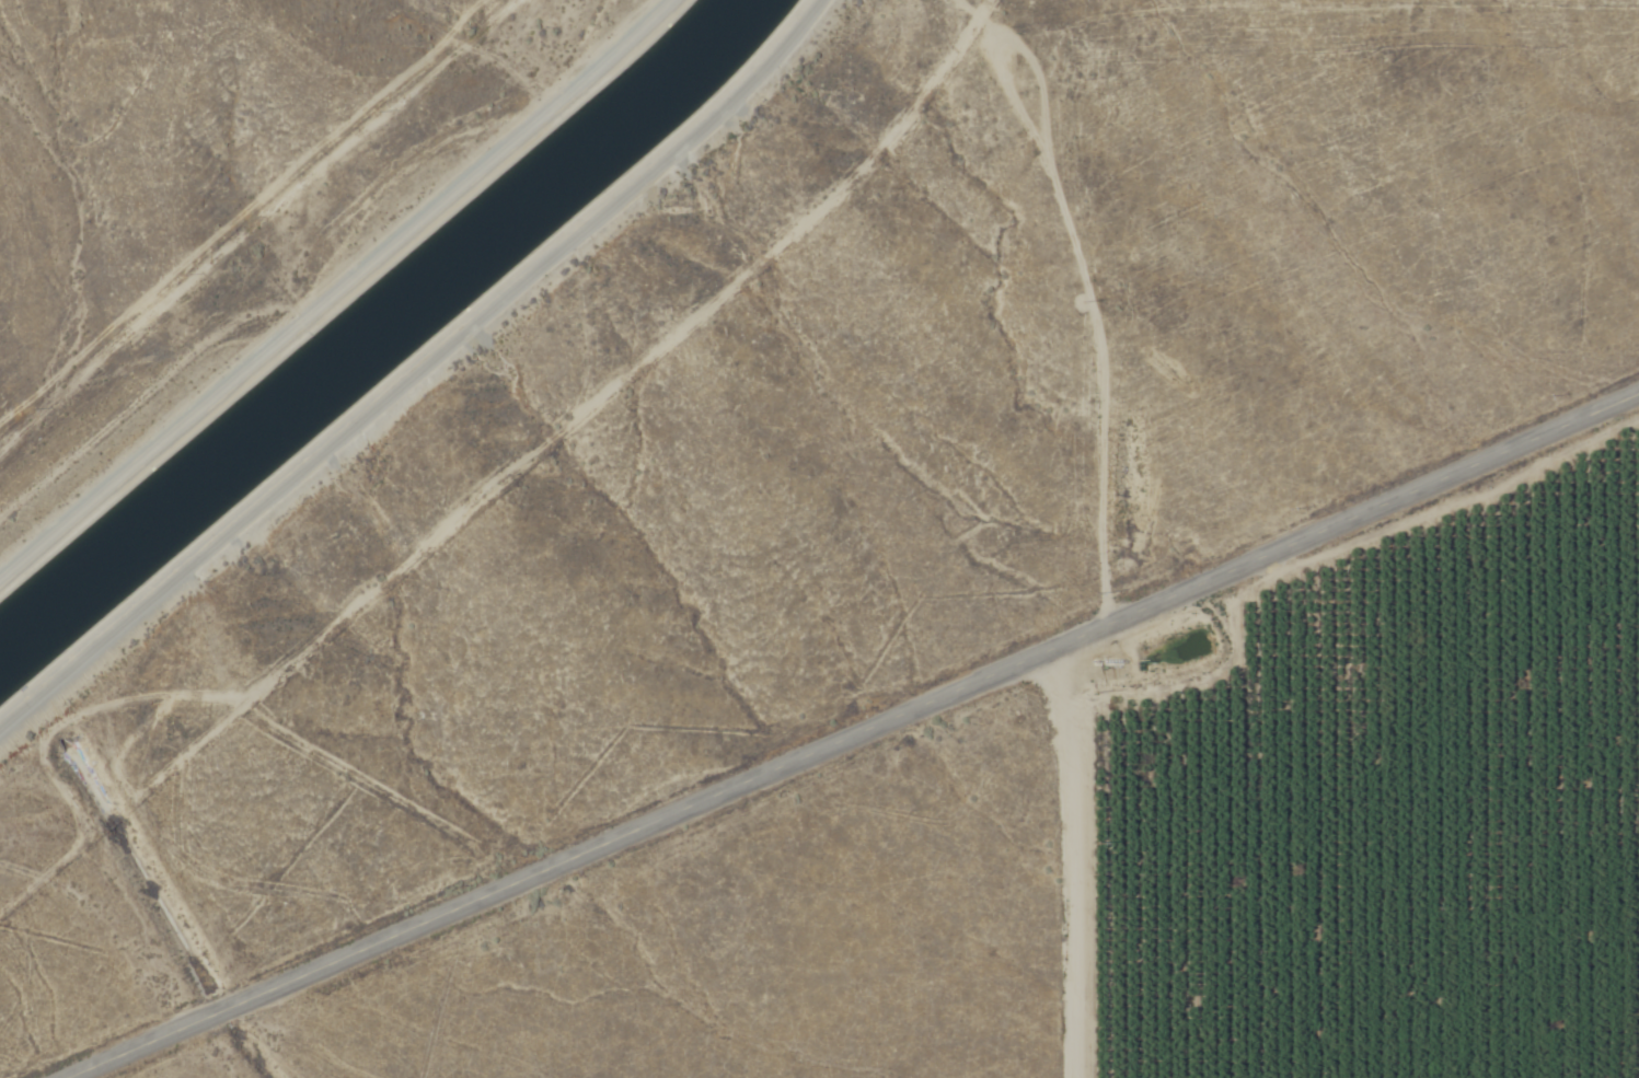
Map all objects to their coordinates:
road: (334, 289)
road: (414, 370)
road: (519, 489)
road: (853, 733)
road: (1067, 862)

